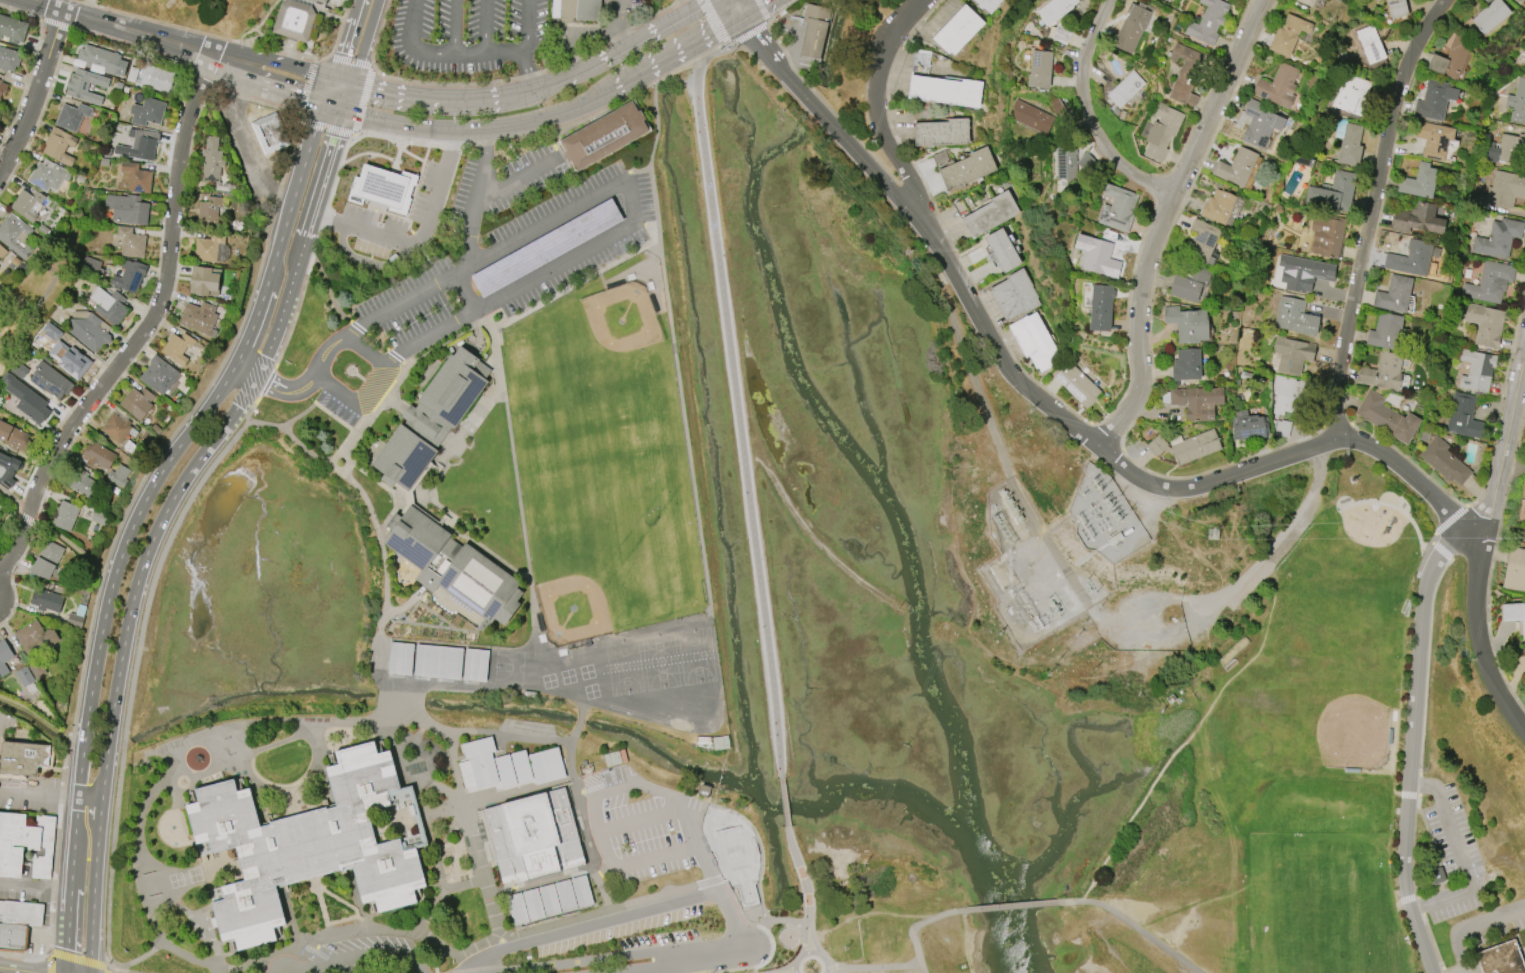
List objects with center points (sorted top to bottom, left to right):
building: (1377, 0)
building: (321, 2)
building: (1313, 3)
building: (987, 4)
building: (1303, 4)
road: (759, 8)
building: (1396, 8)
building: (1055, 9)
building: (580, 10)
building: (1489, 15)
traffic signals: (743, 16)
building: (295, 20)
building: (1207, 21)
road: (715, 22)
road: (453, 26)
road: (488, 26)
road: (619, 26)
building: (1131, 28)
building: (12, 29)
building: (957, 29)
building: (813, 30)
road: (141, 32)
parking lot: (466, 34)
building: (1287, 35)
road: (350, 39)
road: (234, 41)
road: (369, 41)
building: (1370, 44)
road: (527, 47)
road: (448, 52)
road: (715, 54)
building: (1451, 57)
road: (609, 58)
building: (8, 59)
building: (101, 59)
building: (920, 60)
road: (294, 66)
building: (1039, 69)
building: (131, 74)
building: (1185, 74)
building: (158, 78)
traffic signals: (337, 78)
building: (0, 80)
road: (347, 80)
traffic signals: (357, 83)
building: (84, 86)
building: (1277, 86)
building: (2, 88)
building: (1125, 88)
road: (284, 90)
building: (945, 90)
road: (332, 91)
road: (32, 92)
building: (1351, 94)
road: (353, 96)
road: (425, 100)
building: (1432, 100)
building: (1517, 102)
traffic signals: (328, 104)
road: (338, 107)
traffic signals: (349, 110)
building: (147, 112)
road: (1090, 113)
building: (71, 116)
road: (556, 116)
building: (1031, 117)
road: (882, 123)
building: (1260, 123)
building: (1161, 131)
building: (269, 132)
building: (941, 132)
building: (603, 136)
road: (252, 139)
building: (1432, 139)
building: (1350, 144)
building: (57, 146)
building: (141, 146)
building: (1503, 148)
building: (942, 158)
building: (211, 160)
building: (1065, 162)
building: (1085, 162)
building: (1236, 167)
building: (967, 168)
building: (47, 175)
road: (516, 176)
building: (136, 177)
building: (1419, 181)
building: (379, 186)
building: (224, 187)
building: (1505, 188)
building: (1333, 192)
building: (26, 203)
building: (1218, 206)
building: (1117, 208)
building: (126, 209)
road: (1372, 211)
building: (210, 212)
building: (990, 214)
building: (1417, 218)
road: (472, 222)
road: (1162, 222)
road: (420, 234)
road: (619, 234)
building: (15, 235)
building: (1327, 236)
building: (1498, 238)
building: (1202, 240)
building: (131, 242)
building: (211, 248)
building: (1001, 251)
building: (2, 252)
road: (302, 256)
building: (1097, 256)
building: (1410, 259)
parking lot: (516, 265)
building: (1304, 273)
building: (129, 276)
building: (203, 280)
building: (1489, 282)
building: (1189, 283)
building: (1394, 294)
building: (1014, 295)
building: (108, 306)
building: (1101, 307)
park: (22, 315)
building: (1294, 316)
building: (197, 317)
building: (1187, 324)
building: (1485, 324)
road: (146, 327)
building: (88, 330)
road: (675, 330)
building: (1384, 330)
building: (1033, 341)
building: (176, 347)
road: (365, 351)
building: (1290, 355)
building: (70, 356)
building: (1186, 364)
building: (18, 370)
building: (1476, 370)
building: (1383, 371)
flagpole: (354, 372)
road: (247, 373)
building: (158, 375)
road: (312, 376)
building: (49, 380)
building: (1076, 384)
building: (1288, 394)
building: (25, 400)
building: (1195, 401)
building: (137, 402)
road: (309, 410)
building: (1463, 416)
building: (1386, 417)
road: (741, 420)
building: (1247, 426)
building: (115, 428)
building: (1281, 428)
building: (13, 436)
road: (1503, 443)
road: (180, 444)
building: (1186, 446)
building: (98, 456)
road: (447, 459)
park: (603, 460)
building: (1443, 461)
road: (1119, 462)
road: (517, 466)
building: (8, 469)
building: (119, 476)
building: (441, 480)
building: (84, 486)
building: (1524, 492)
road: (15, 497)
building: (65, 516)
building: (99, 517)
power tower: (1218, 536)
road: (74, 549)
power substation: (1065, 552)
building: (46, 560)
building: (1514, 569)
road: (140, 586)
building: (46, 600)
road: (1201, 605)
building: (74, 620)
building: (1523, 620)
building: (34, 636)
building: (4, 657)
building: (400, 658)
park: (699, 659)
building: (437, 661)
building: (475, 664)
park: (664, 664)
building: (36, 669)
park: (512, 669)
park: (627, 669)
building: (23, 677)
road: (595, 678)
road: (517, 689)
road: (403, 700)
road: (42, 715)
road: (393, 718)
road: (583, 721)
road: (1194, 723)
park: (1359, 734)
road: (510, 738)
road: (1412, 739)
road: (186, 750)
building: (22, 757)
road: (570, 758)
building: (481, 761)
park: (1292, 764)
building: (546, 765)
building: (521, 767)
building: (505, 771)
road: (39, 795)
road: (91, 799)
road: (594, 805)
road: (786, 805)
road: (461, 808)
road: (641, 819)
parking lot: (636, 827)
building: (533, 837)
building: (26, 844)
building: (314, 850)
park: (735, 857)
parking lot: (1457, 858)
road: (1462, 859)
road: (708, 866)
road: (36, 884)
road: (72, 886)
road: (97, 886)
road: (690, 886)
road: (805, 888)
road: (566, 896)
building: (549, 900)
parking lot: (541, 904)
road: (1013, 906)
park: (879, 911)
road: (730, 918)
road: (770, 920)
building: (17, 922)
road: (589, 923)
road: (1135, 926)
road: (1472, 927)
road: (208, 941)
road: (810, 950)
road: (449, 951)
road: (705, 954)
road: (187, 956)
road: (358, 957)
road: (78, 959)
road: (136, 959)
building: (1500, 959)
road: (578, 961)
road: (917, 962)
road: (48, 963)
road: (685, 965)
road: (920, 968)
road: (17, 969)
road: (106, 969)
road: (646, 969)
road: (782, 971)
road: (436, 972)

